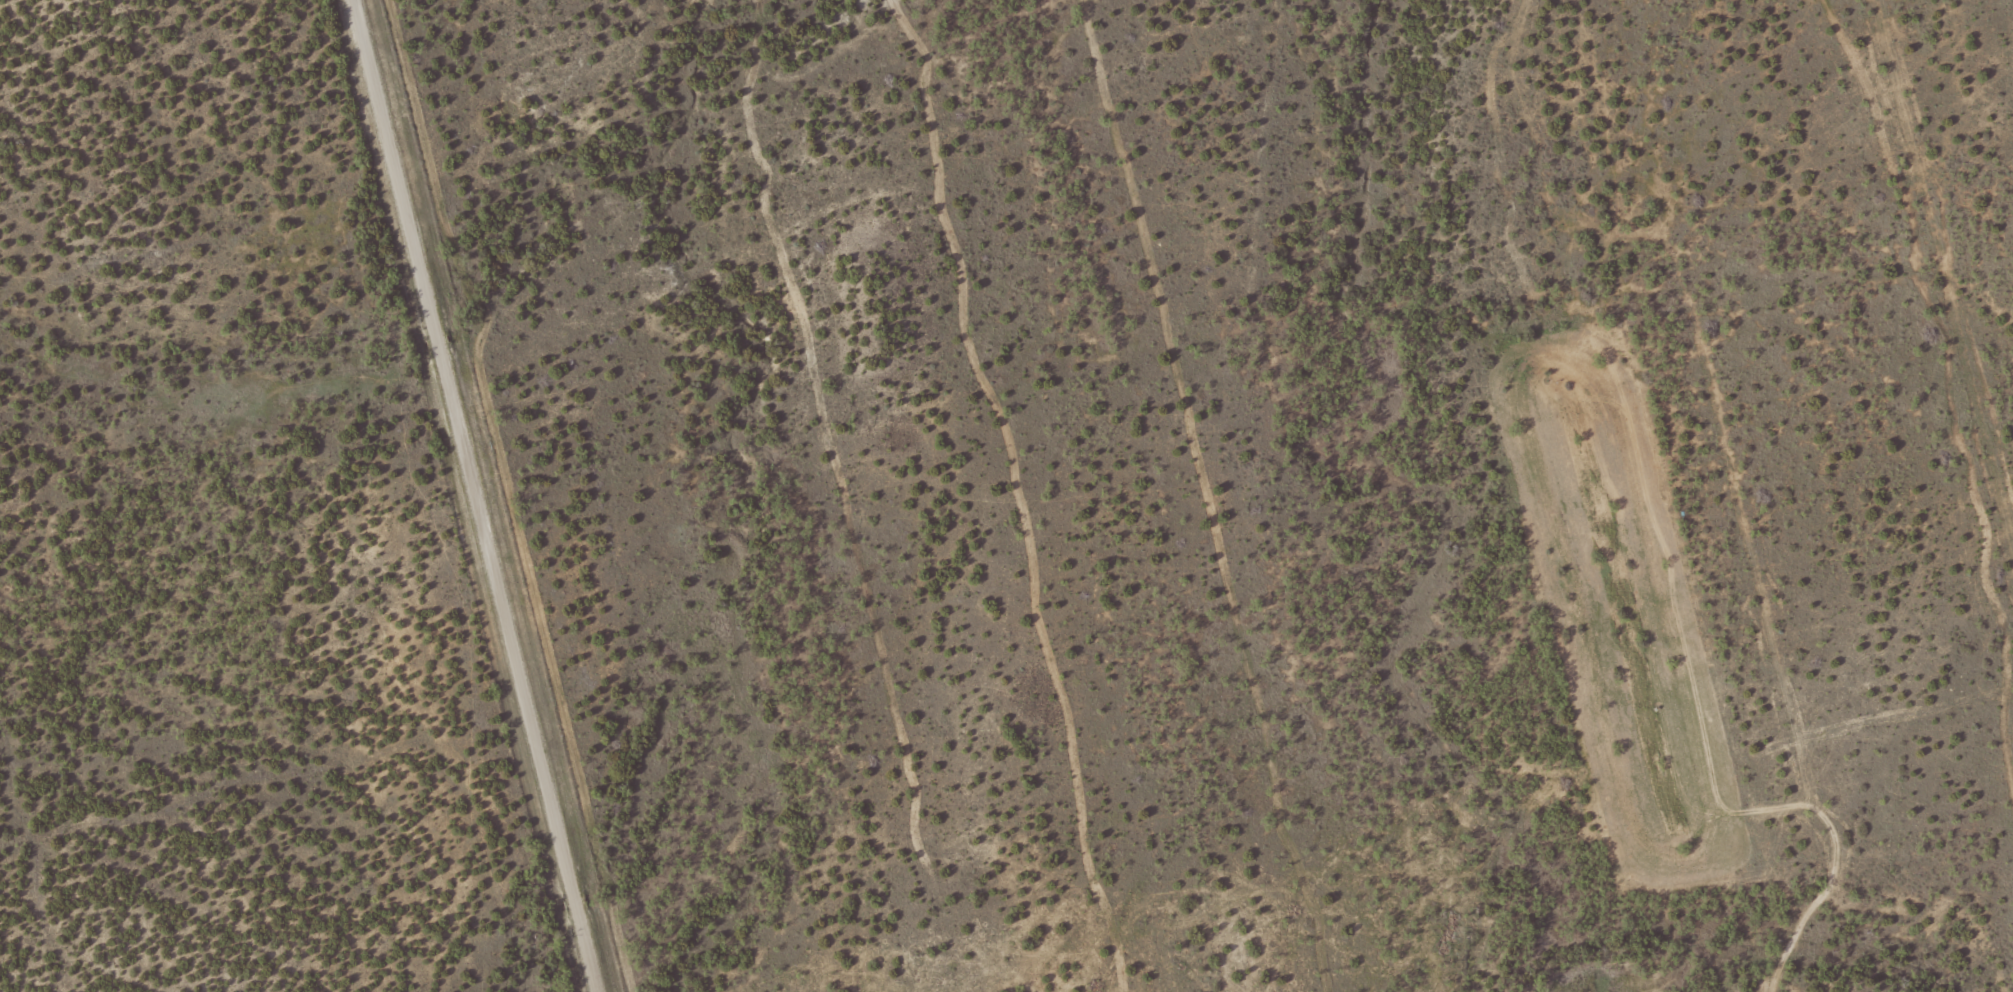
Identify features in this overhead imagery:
road: (472, 496)

